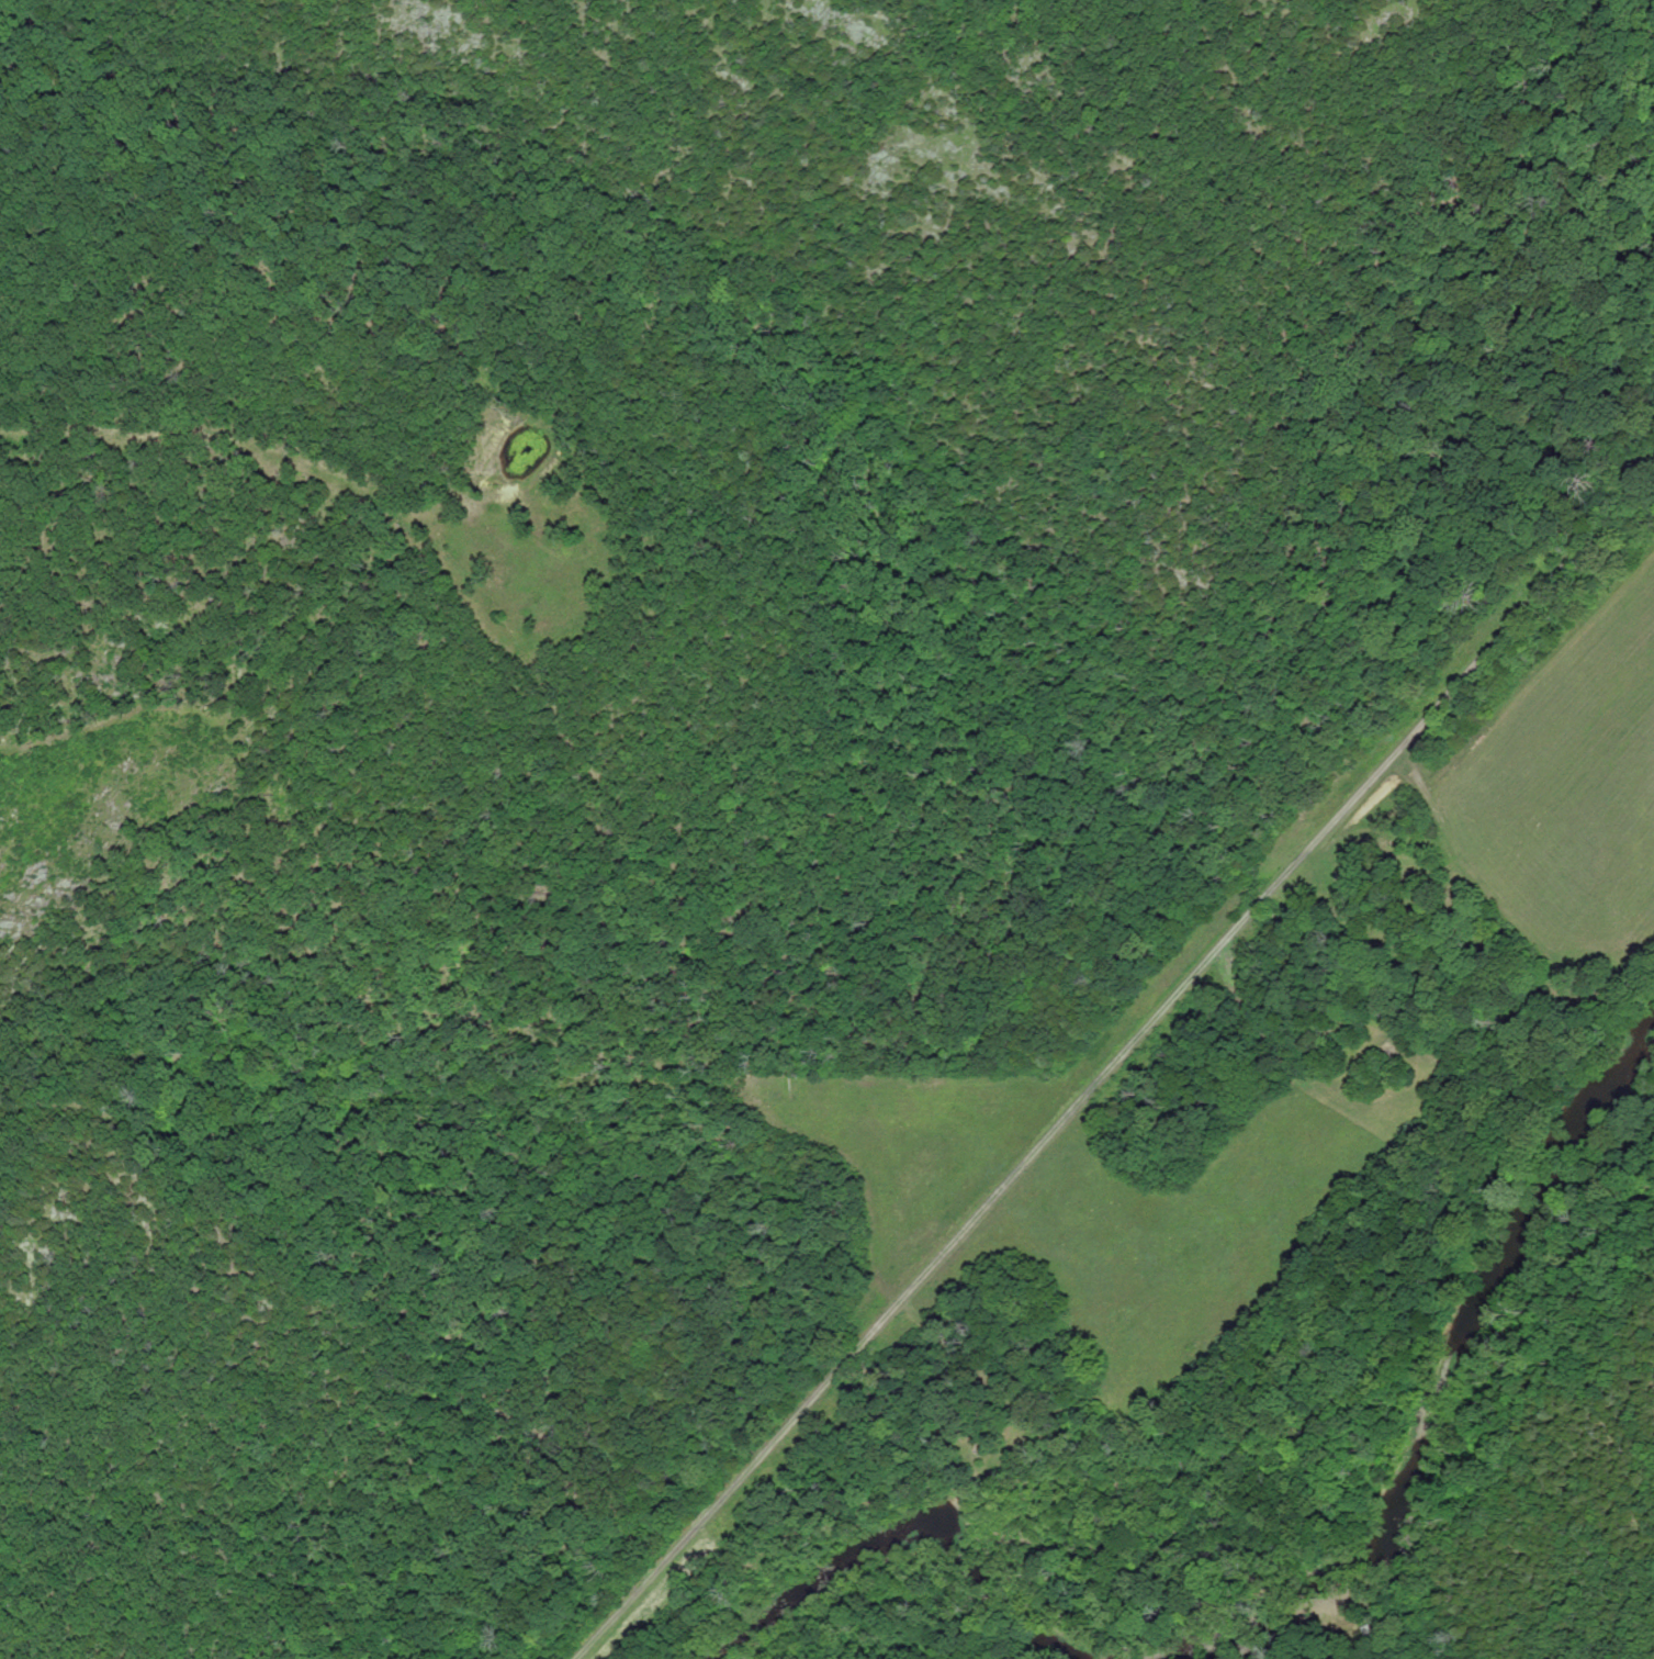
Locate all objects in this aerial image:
river: (1452, 1403)
river: (925, 1532)

